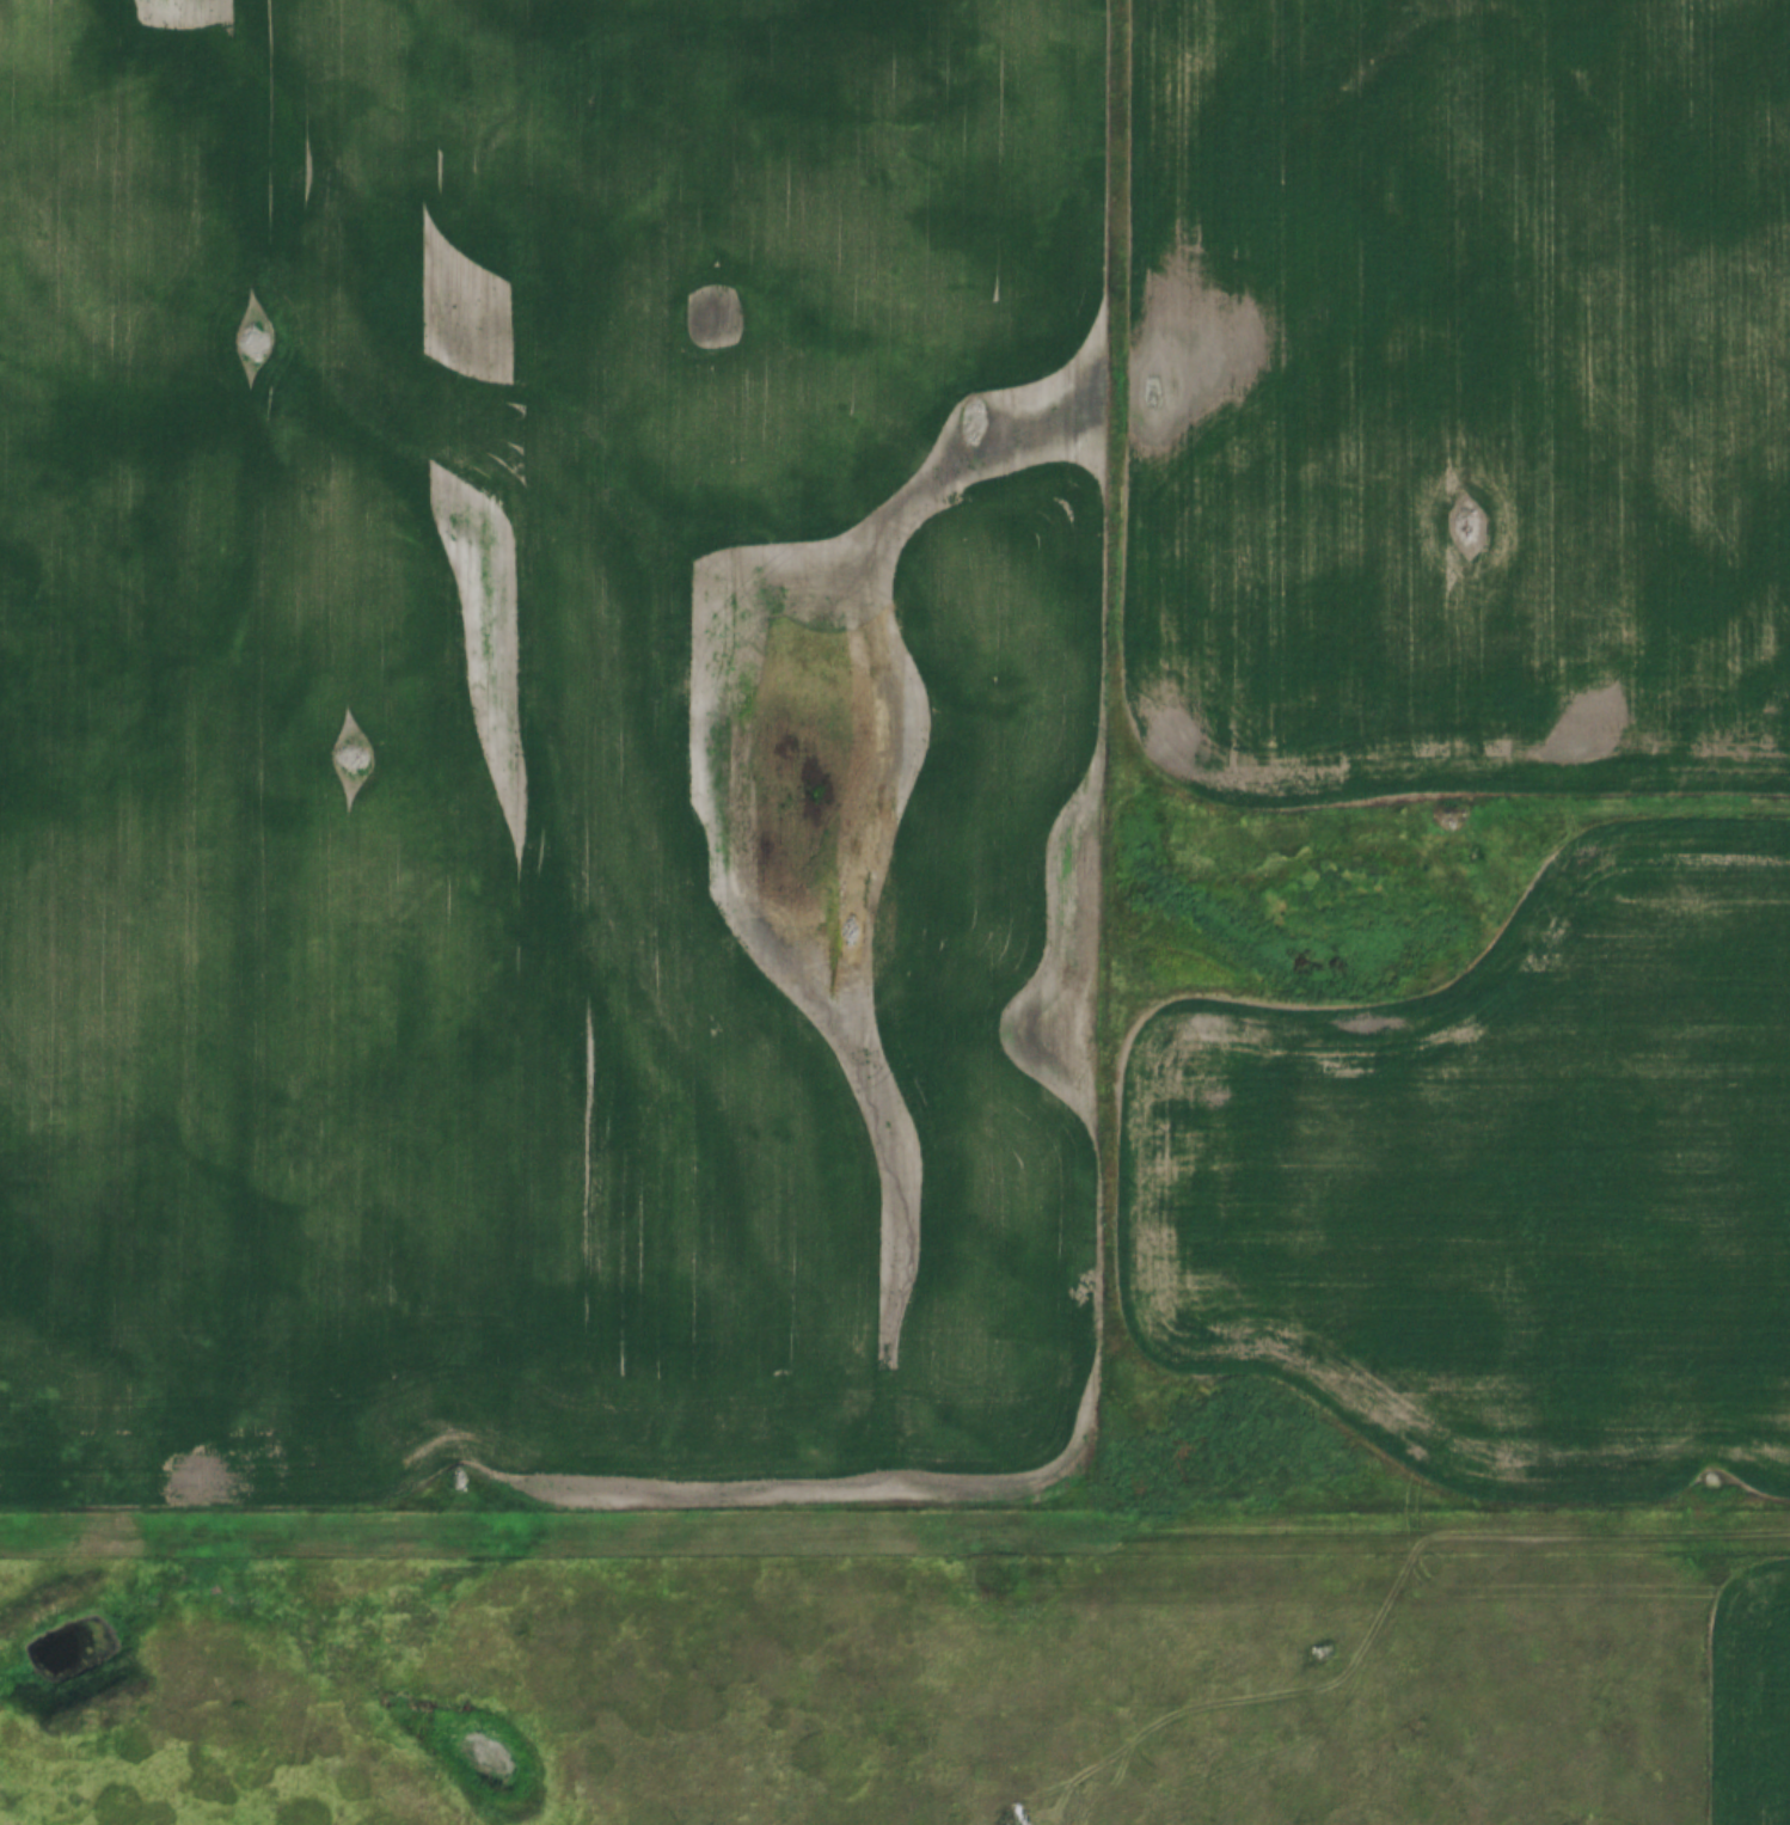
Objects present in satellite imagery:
road: (895, 1531)
road: (24, 1576)

